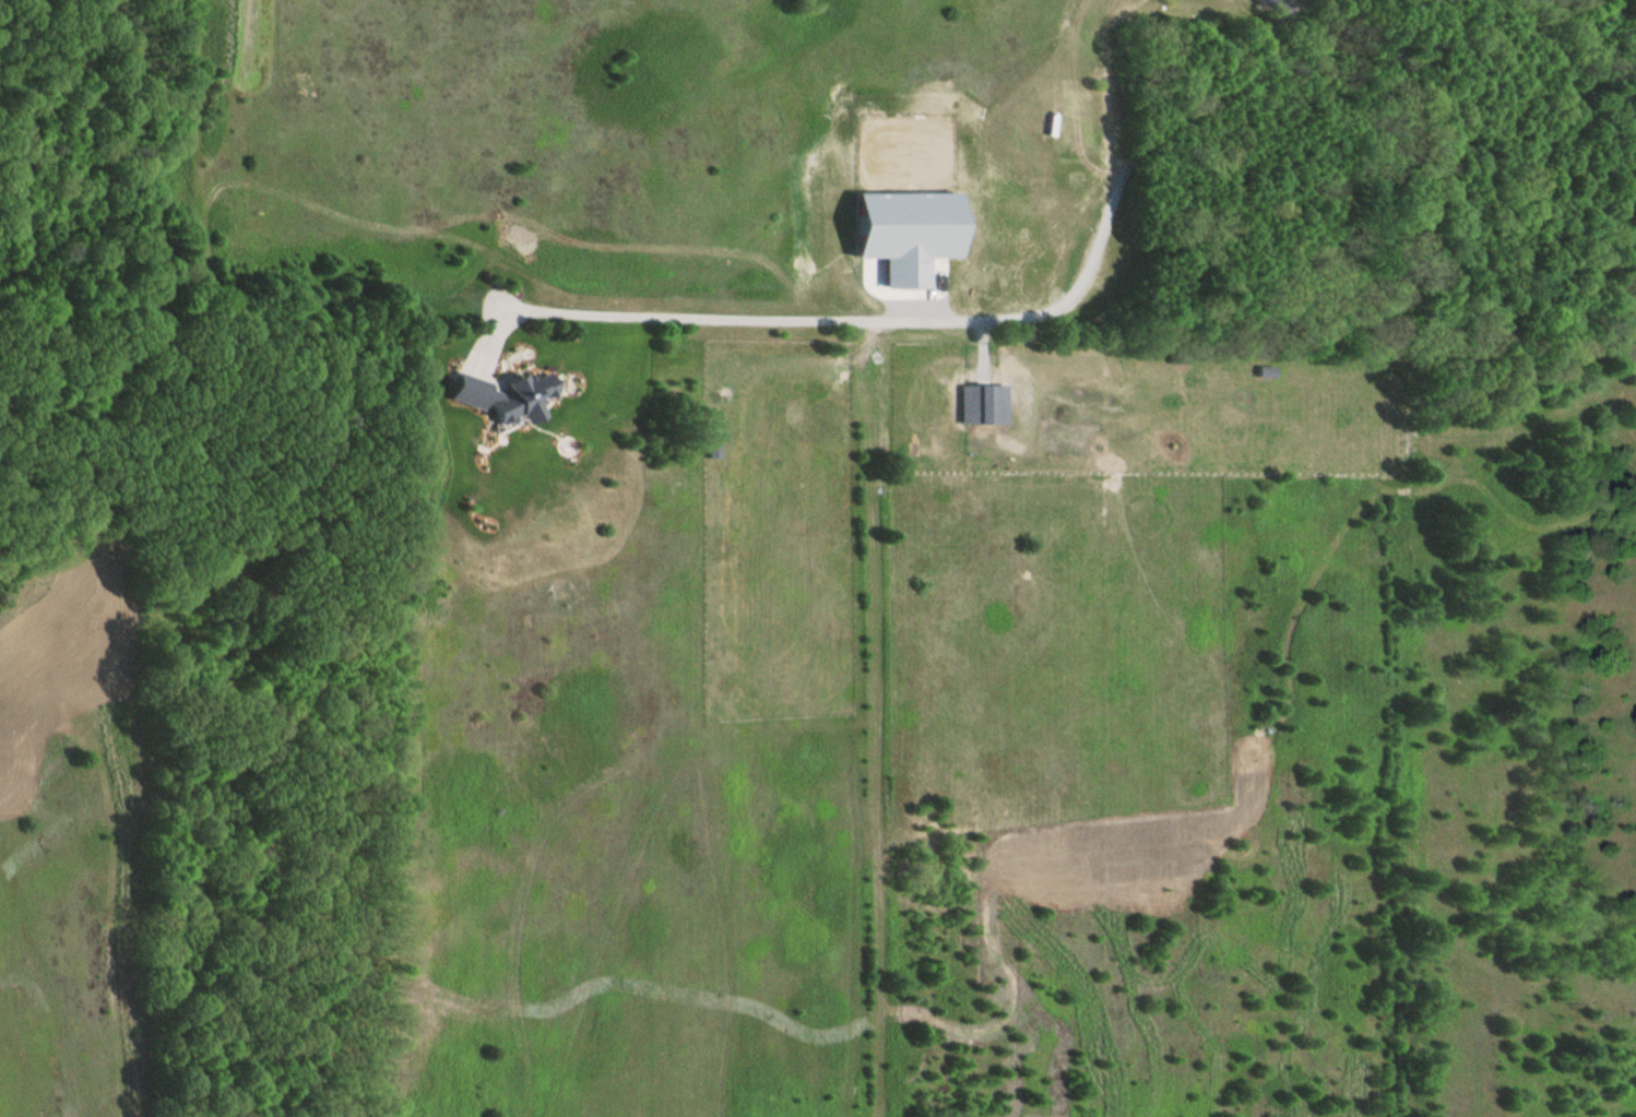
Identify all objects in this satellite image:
building: (1259, 1)
building: (982, 404)

